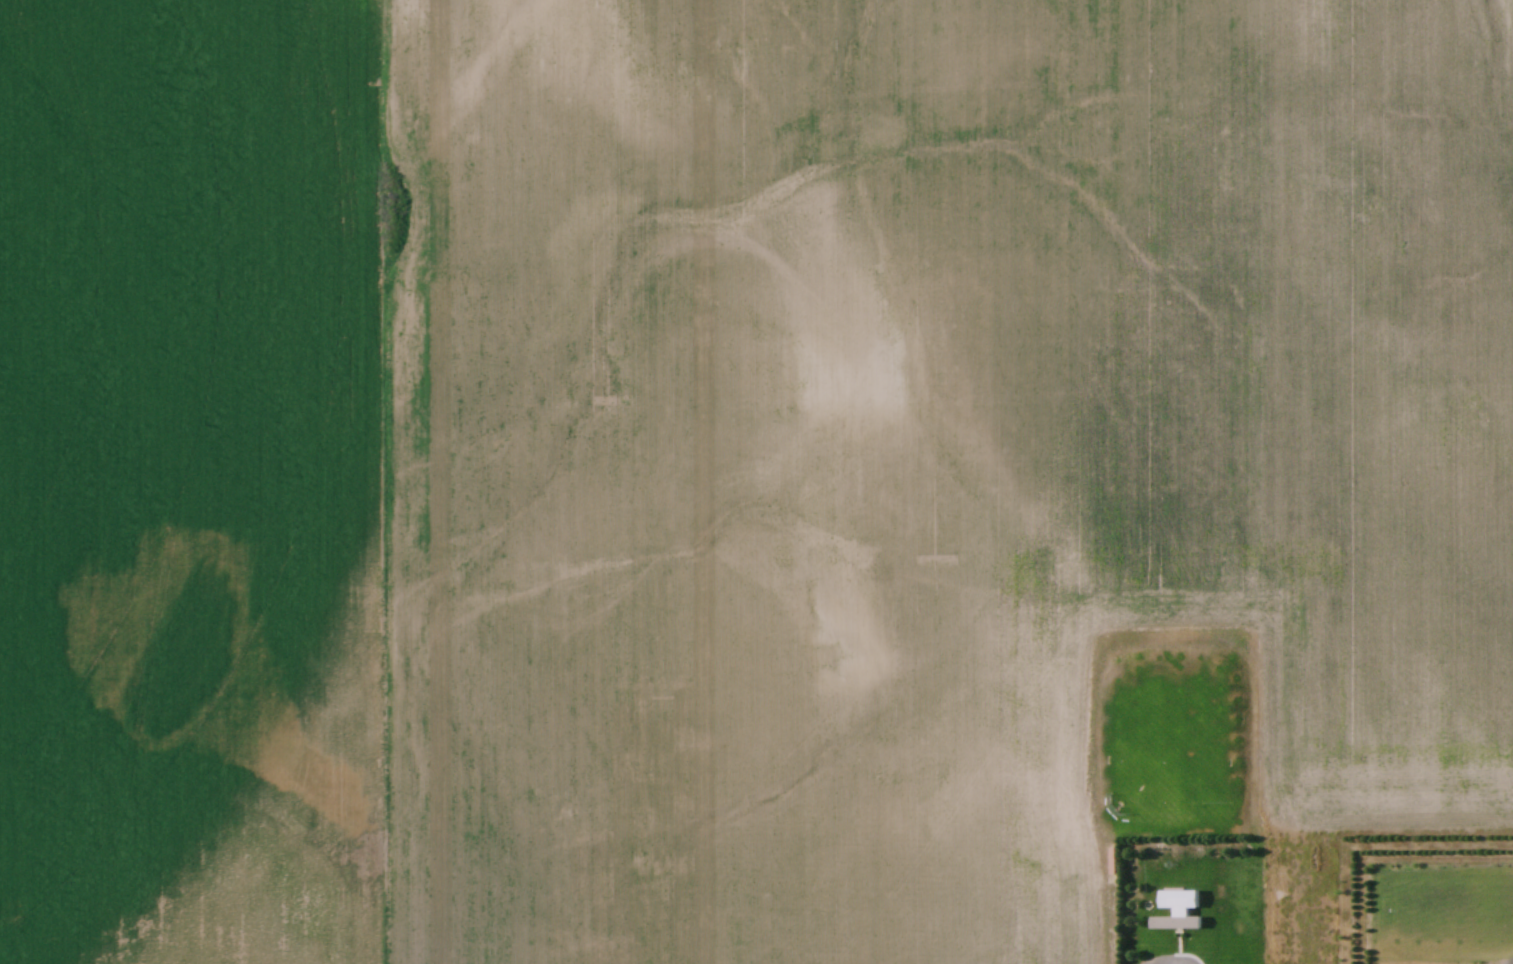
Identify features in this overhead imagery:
building: (1181, 923)

